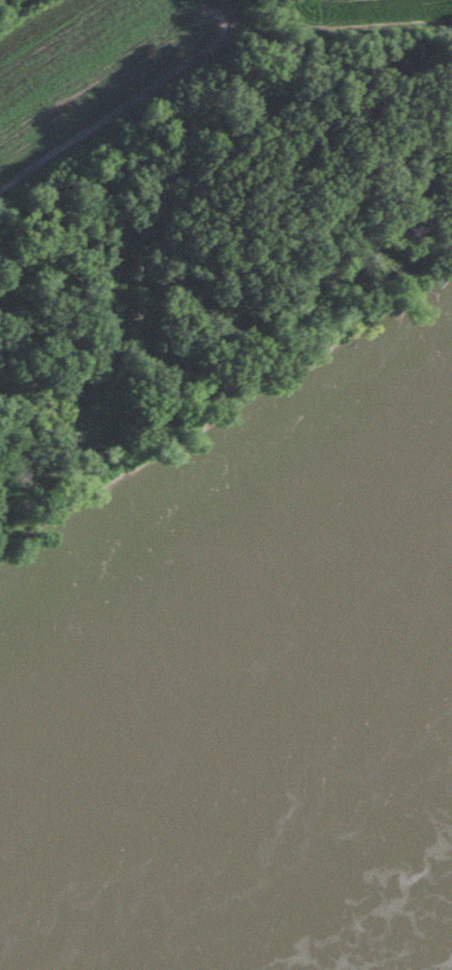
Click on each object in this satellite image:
river: (409, 948)

